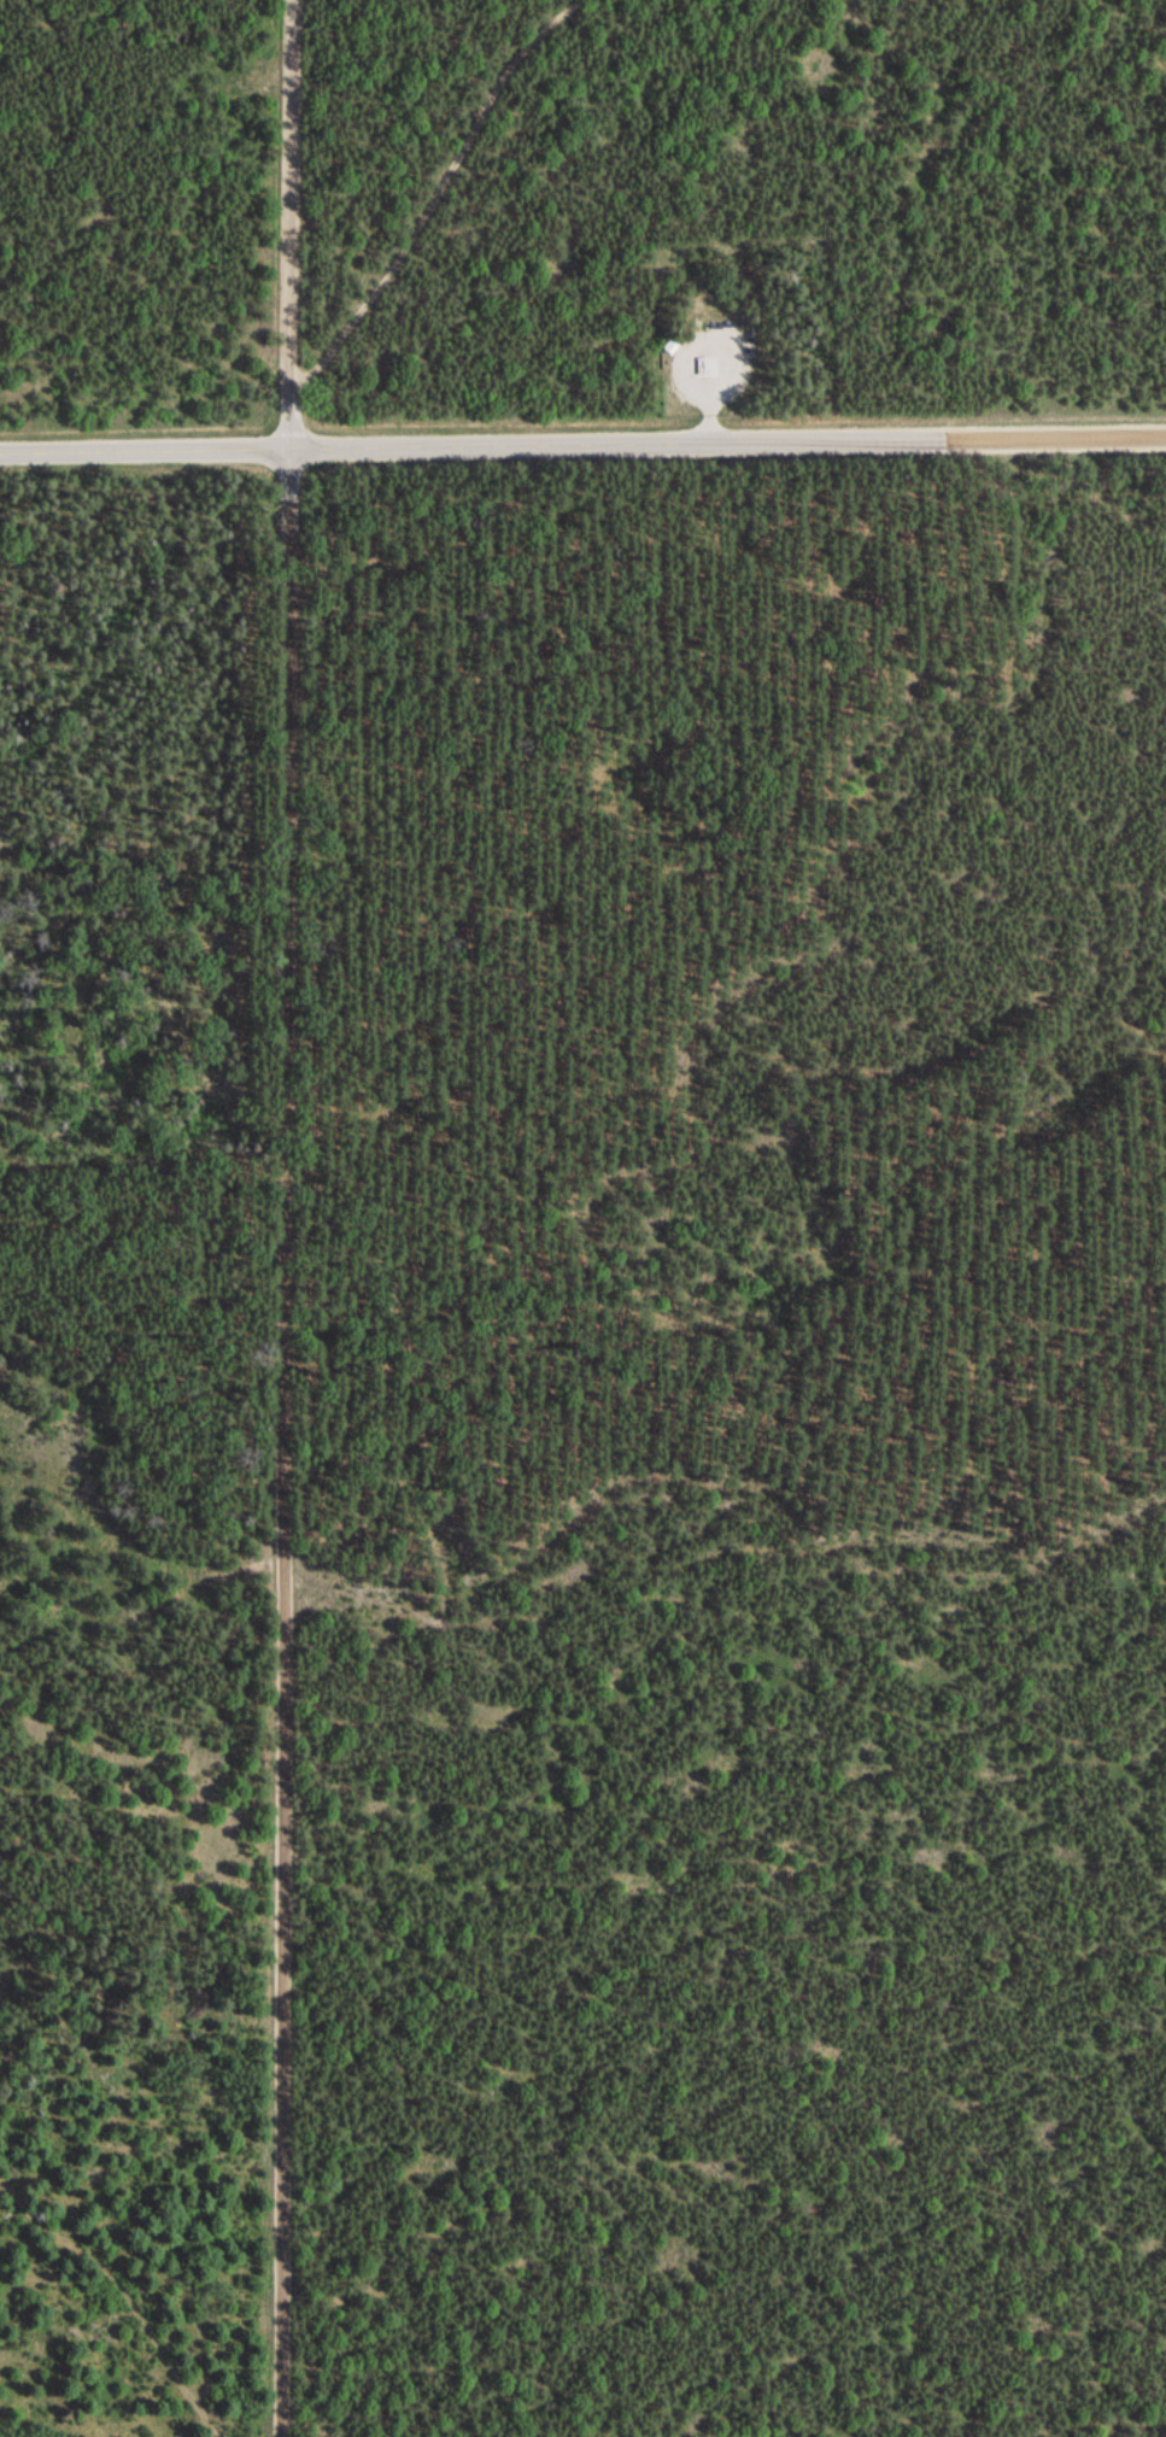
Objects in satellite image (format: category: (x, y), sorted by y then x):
road: (439, 199)
road: (582, 462)
road: (286, 1218)

